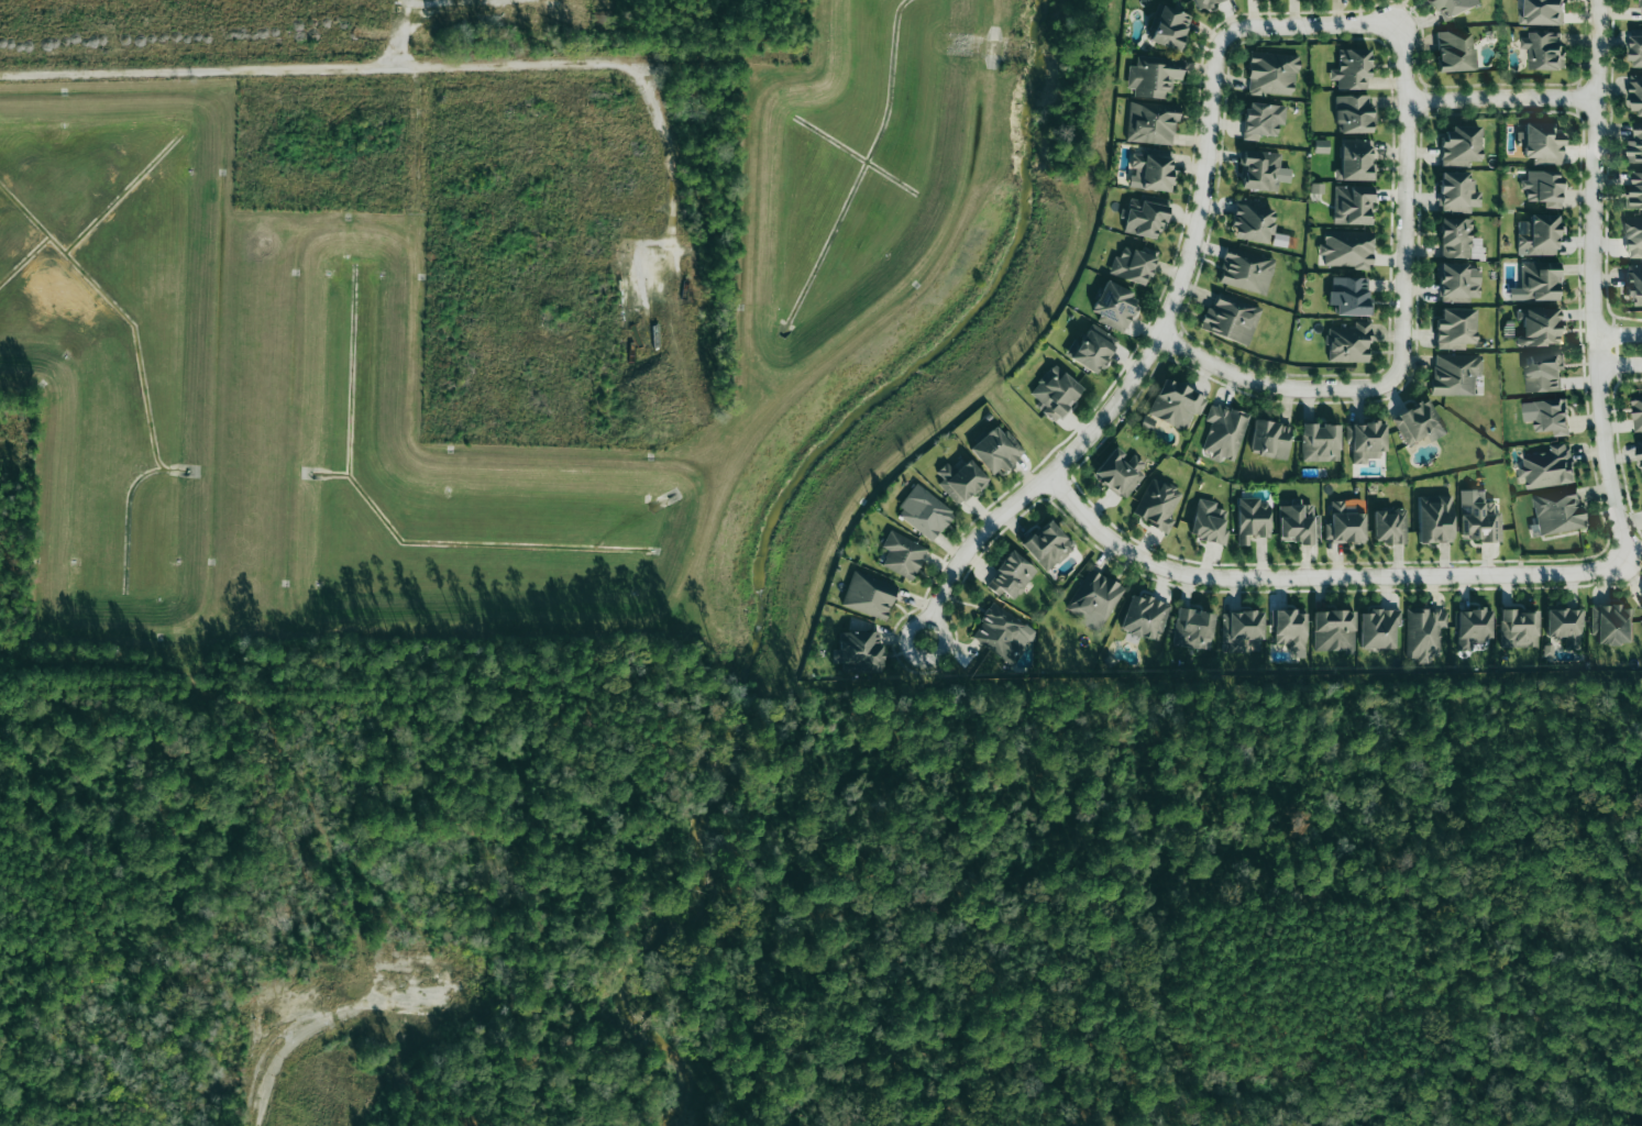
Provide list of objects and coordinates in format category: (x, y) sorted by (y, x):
building: (1203, 3)
building: (1453, 8)
building: (1541, 12)
road: (1311, 24)
building: (1171, 29)
road: (401, 32)
building: (1455, 51)
building: (1543, 51)
building: (1637, 52)
road: (491, 63)
building: (1352, 68)
building: (1271, 74)
building: (1154, 76)
building: (1635, 92)
road: (1502, 97)
building: (1354, 113)
building: (1261, 120)
building: (1151, 122)
building: (1541, 143)
building: (1635, 144)
building: (1459, 146)
building: (1355, 161)
building: (1151, 170)
building: (1261, 170)
building: (1543, 188)
building: (1635, 190)
building: (1457, 192)
building: (1154, 199)
road: (1407, 202)
building: (1353, 205)
building: (1143, 219)
building: (1252, 223)
building: (1540, 234)
building: (1633, 238)
building: (1458, 239)
building: (1279, 240)
building: (1346, 250)
building: (1133, 264)
building: (1245, 271)
building: (1539, 280)
road: (1594, 280)
building: (1458, 283)
building: (1633, 284)
building: (1349, 296)
building: (1113, 306)
building: (1231, 319)
building: (1539, 325)
road: (686, 328)
building: (1455, 328)
road: (1618, 333)
building: (1348, 343)
road: (672, 360)
road: (1144, 361)
road: (1619, 363)
building: (1543, 373)
building: (1455, 374)
road: (1270, 384)
building: (1055, 393)
building: (1176, 404)
building: (1637, 413)
building: (1547, 416)
building: (1419, 423)
building: (1224, 431)
building: (1270, 439)
building: (1367, 441)
building: (1320, 442)
building: (1641, 449)
building: (995, 450)
building: (1547, 467)
building: (1120, 472)
building: (960, 479)
building: (1157, 504)
building: (1557, 511)
building: (924, 512)
building: (1477, 517)
building: (1434, 518)
building: (1252, 519)
building: (1209, 521)
building: (1298, 523)
building: (1389, 526)
building: (1047, 545)
building: (902, 554)
building: (1011, 575)
road: (1319, 575)
building: (868, 595)
building: (1093, 599)
building: (1641, 603)
building: (1144, 617)
building: (1611, 623)
building: (1565, 626)
road: (911, 627)
building: (1473, 627)
building: (1378, 628)
building: (1518, 628)
building: (1193, 629)
building: (1239, 629)
building: (1290, 630)
building: (1333, 631)
building: (1424, 632)
building: (1002, 633)
building: (860, 650)
road: (262, 1005)
road: (299, 1040)

